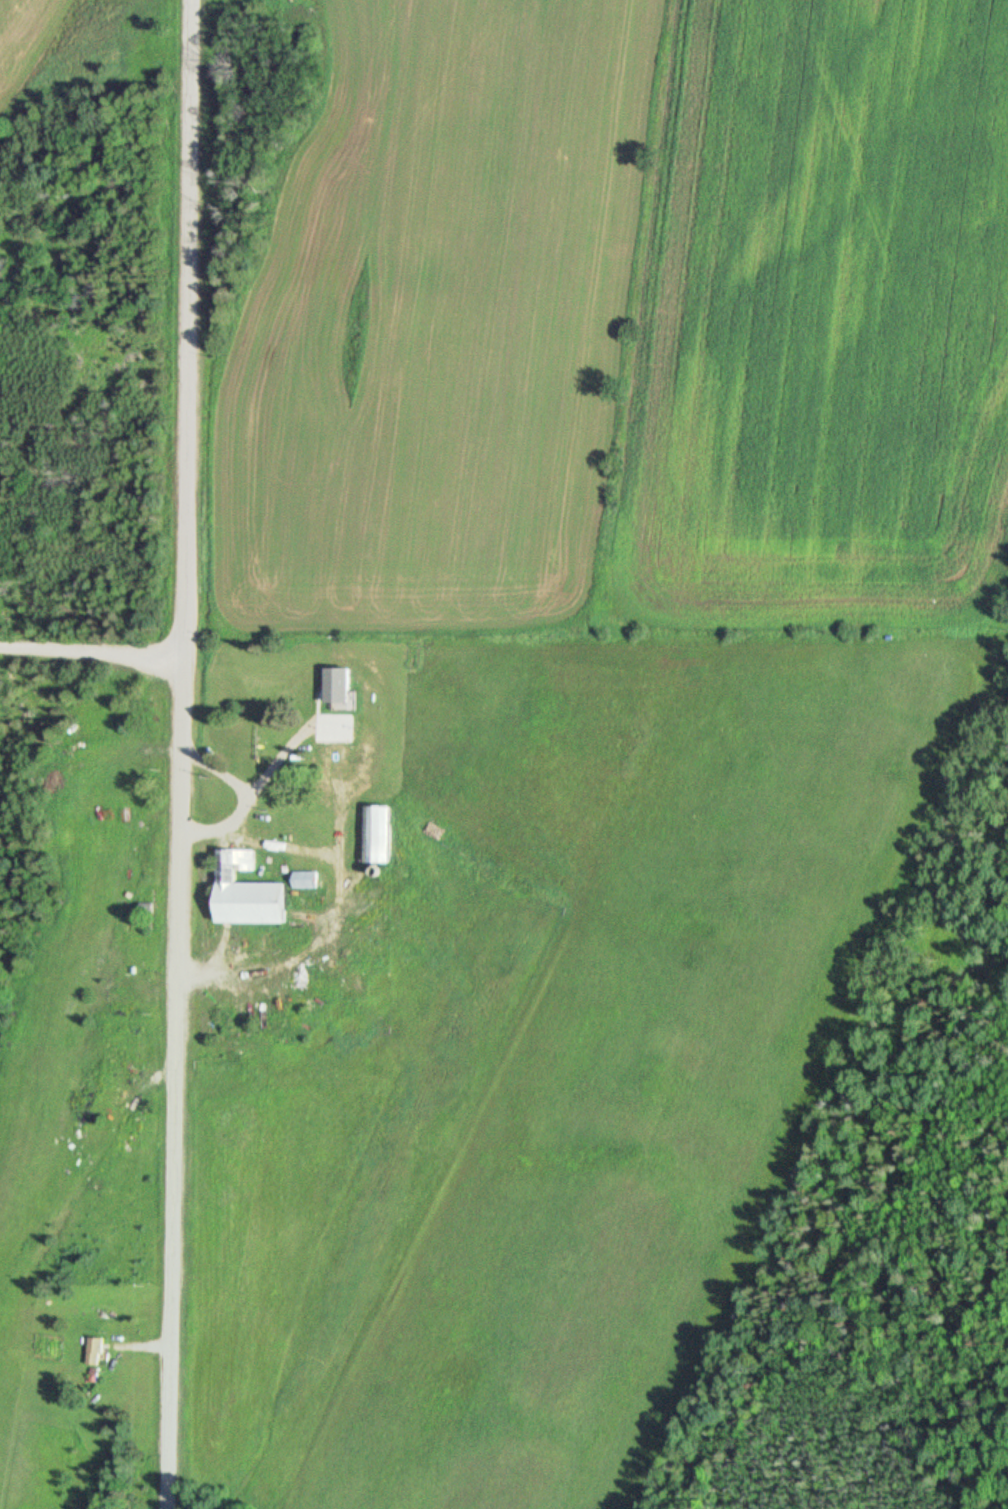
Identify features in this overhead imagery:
road: (90, 660)
building: (337, 686)
road: (178, 754)
building: (248, 894)
building: (94, 1352)

